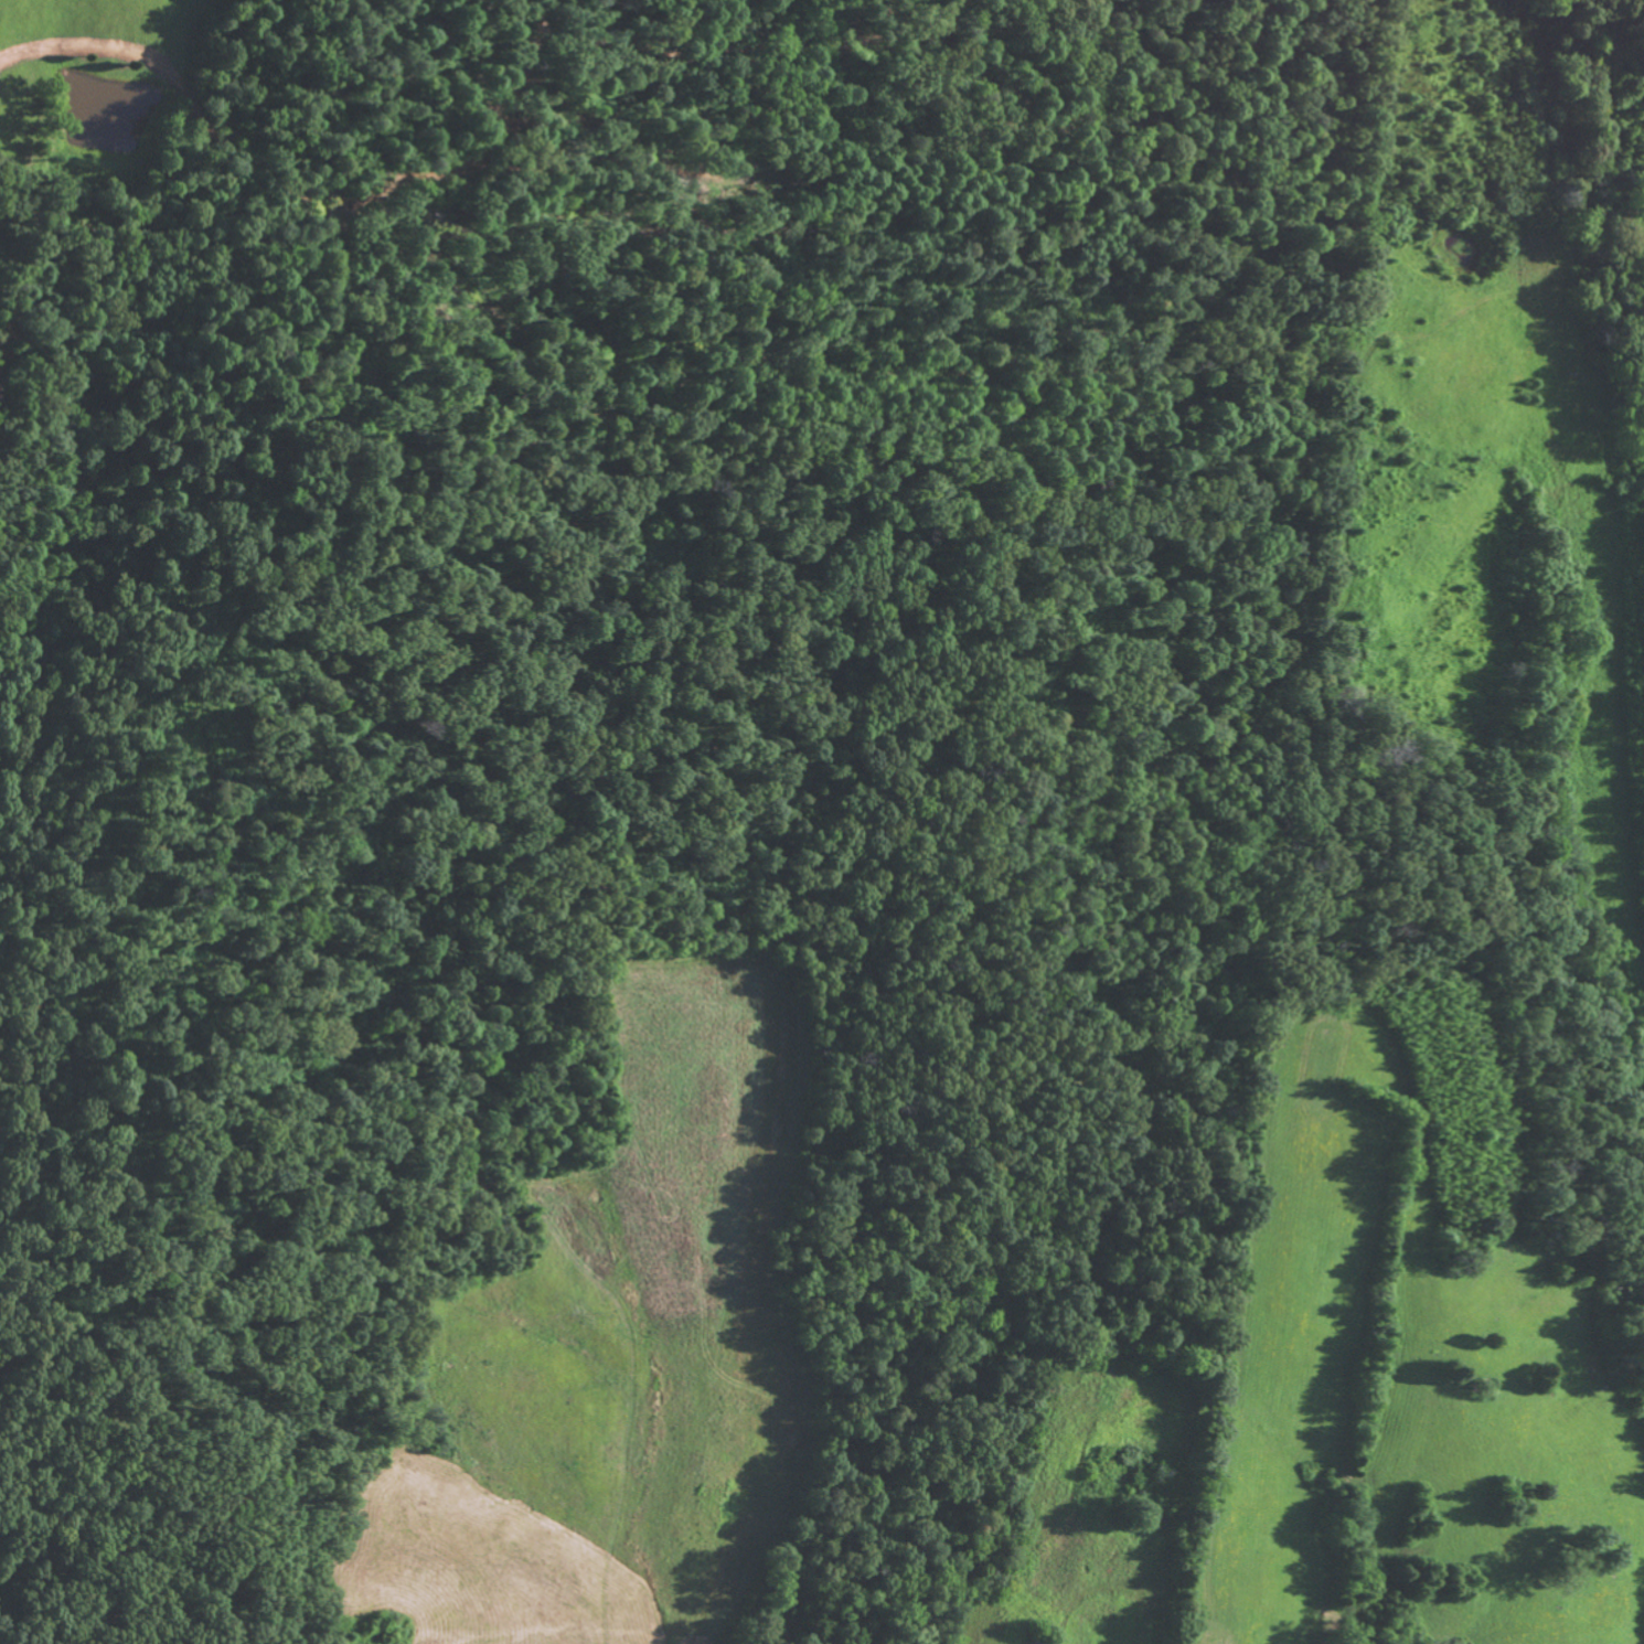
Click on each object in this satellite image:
road: (1452, 958)

